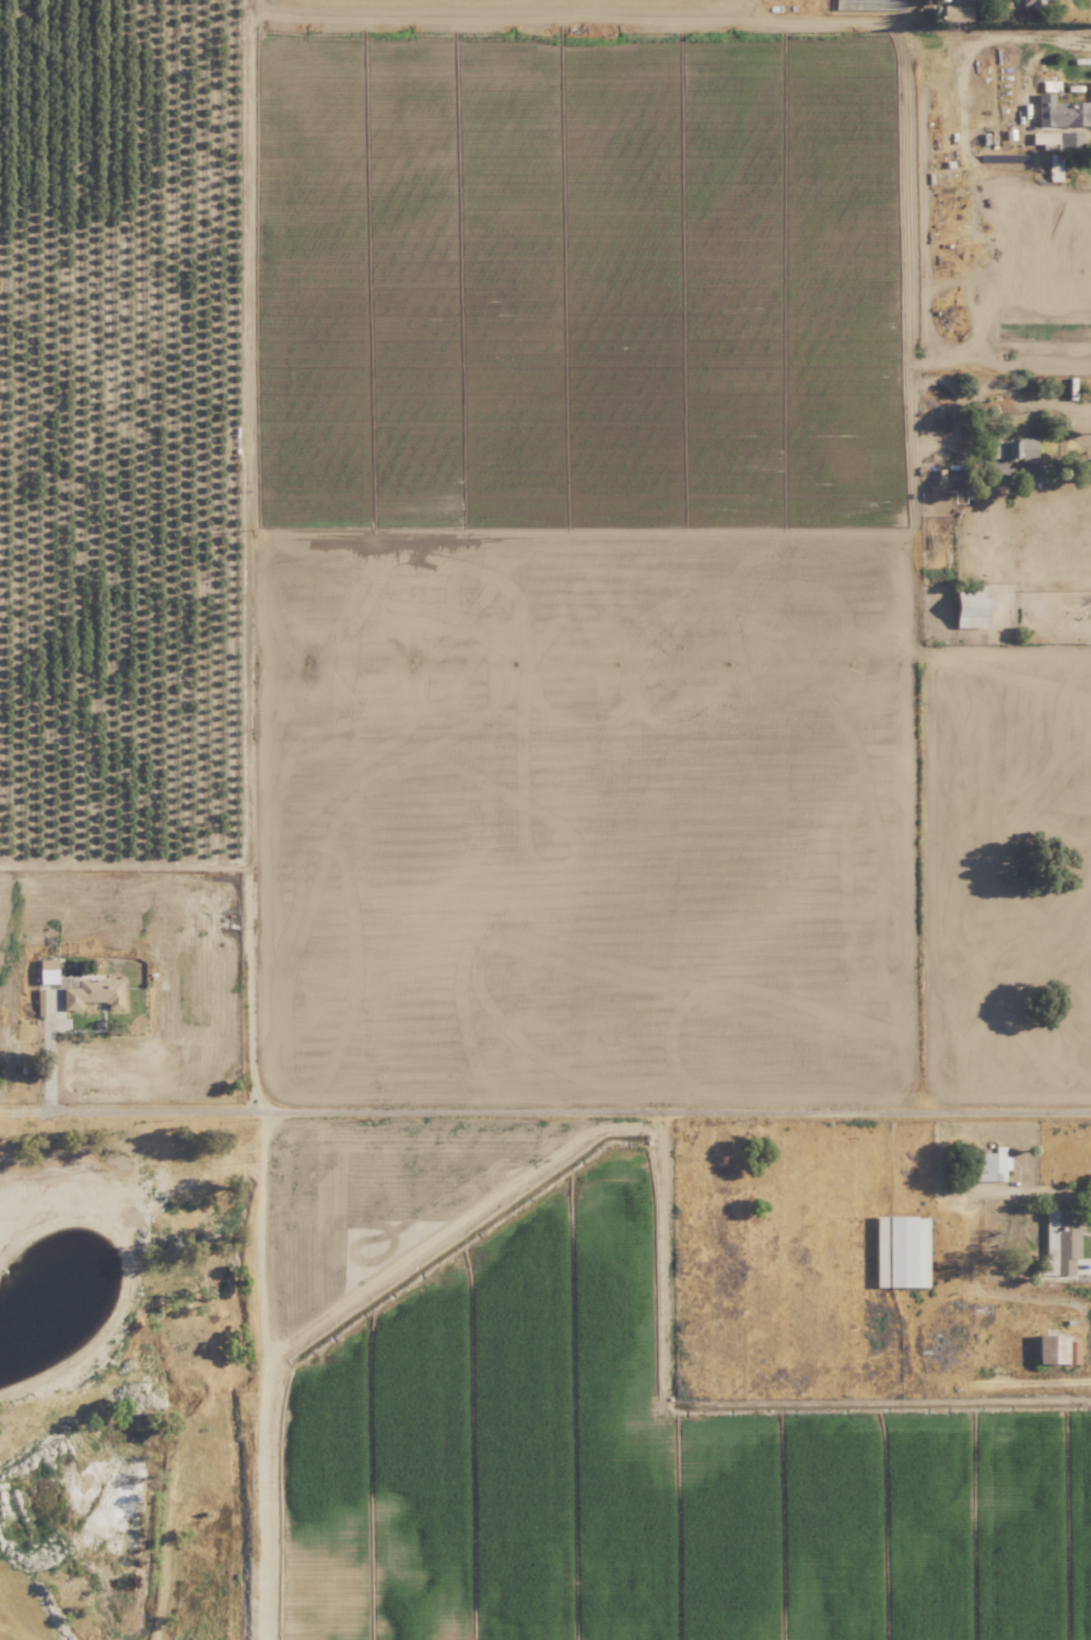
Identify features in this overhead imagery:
building: (1034, 1)
road: (977, 47)
building: (1061, 111)
building: (1043, 137)
building: (1069, 139)
building: (1011, 447)
road: (1060, 461)
building: (46, 970)
building: (92, 993)
road: (545, 1107)
building: (989, 1165)
building: (1060, 1240)
building: (900, 1252)

